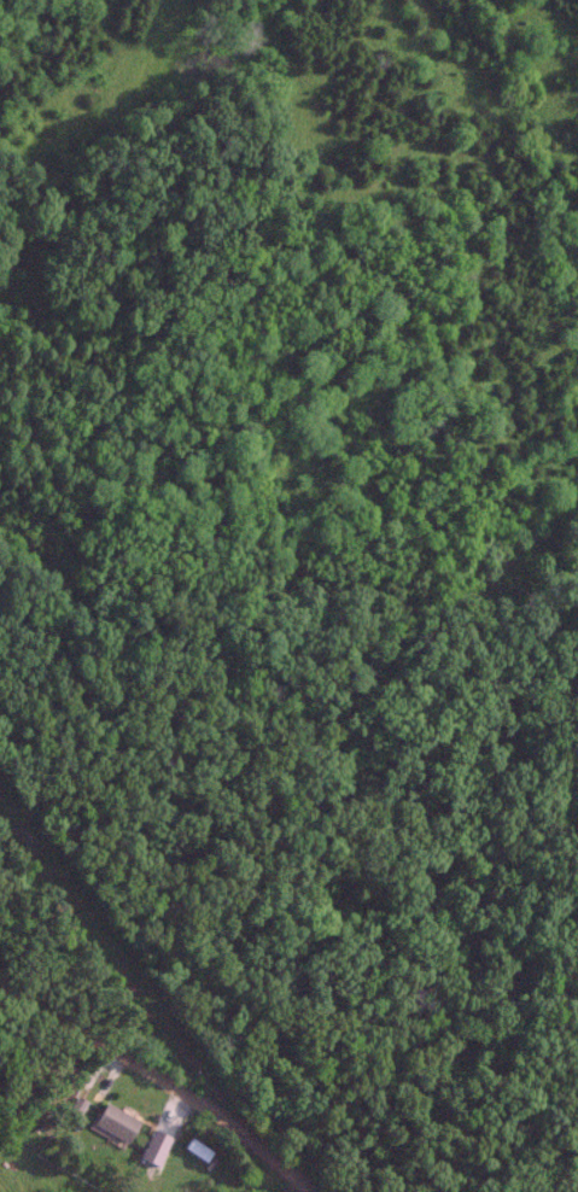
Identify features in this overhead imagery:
road: (157, 1076)
building: (113, 1121)
building: (195, 1149)

